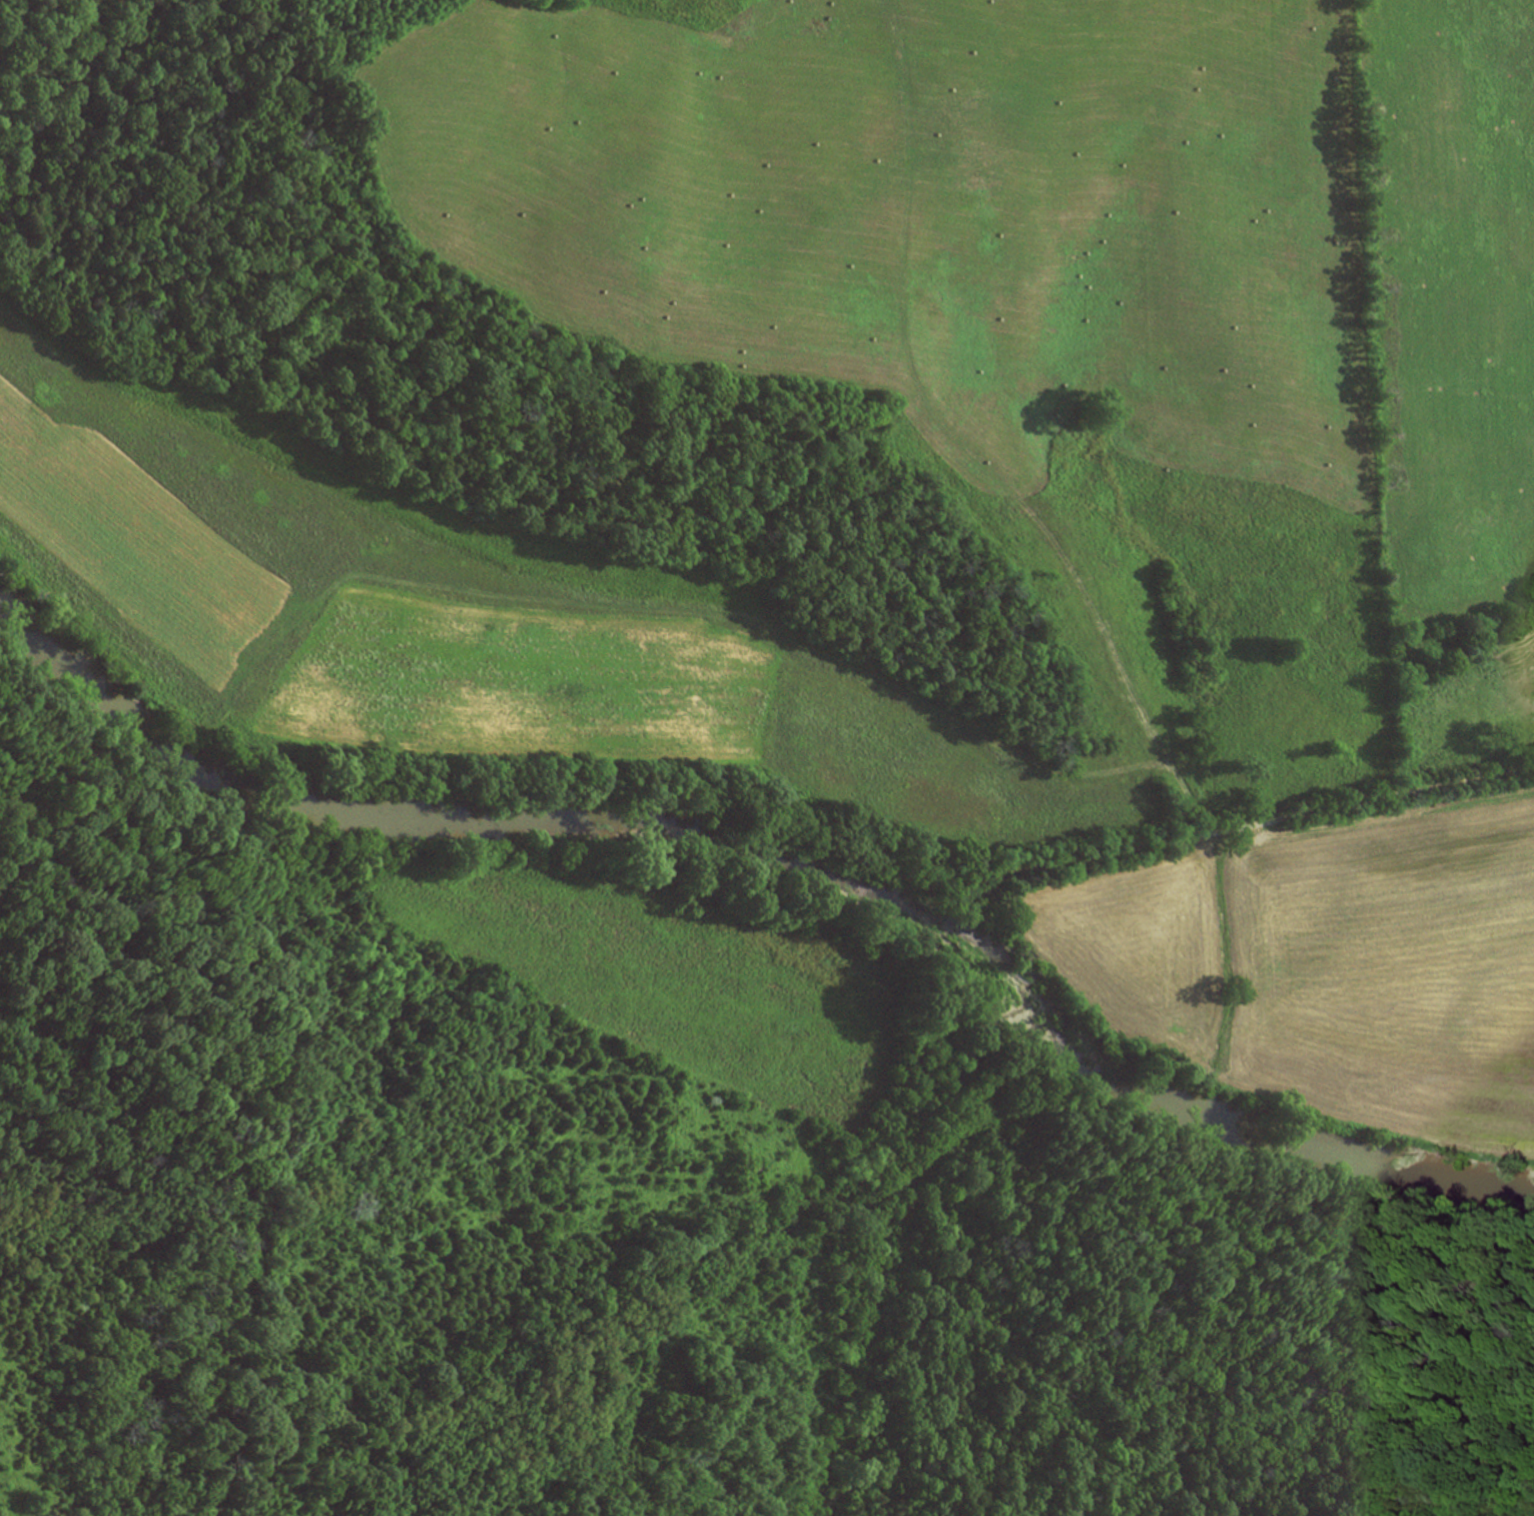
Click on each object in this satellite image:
road: (1255, 826)
river: (771, 870)

